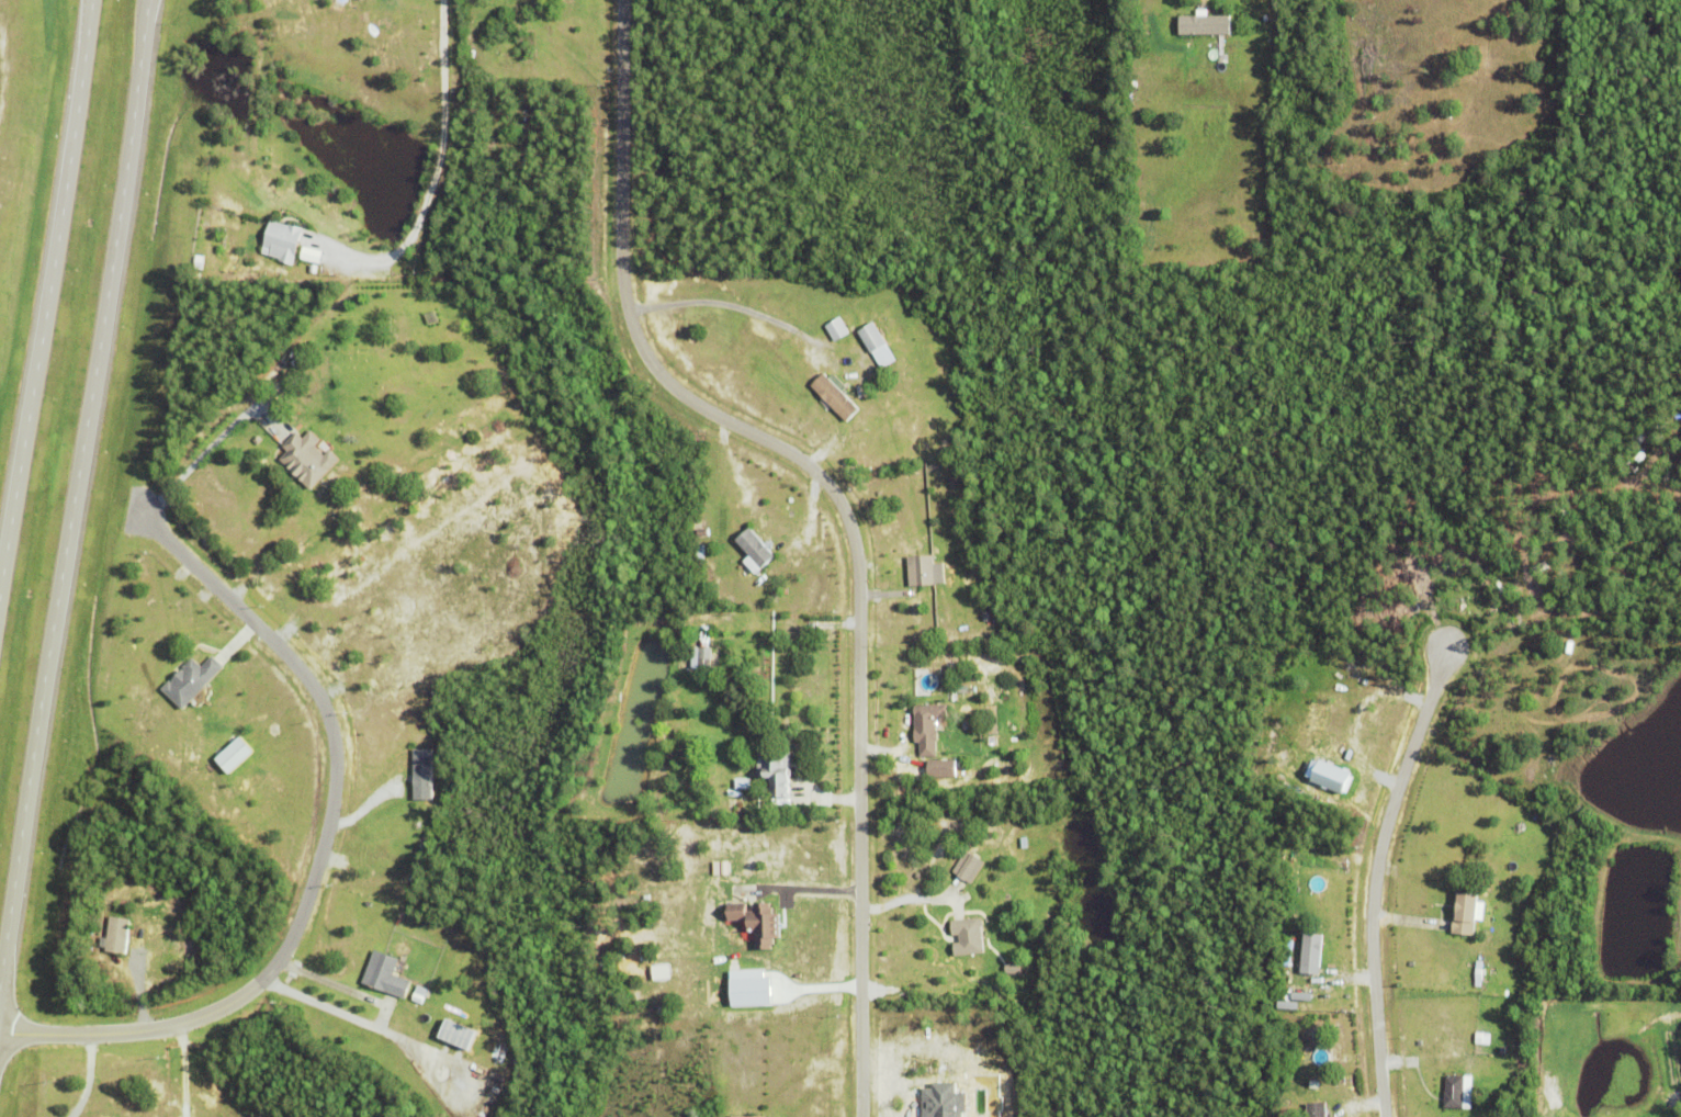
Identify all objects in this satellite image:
building: (1205, 29)
road: (430, 167)
building: (282, 245)
building: (313, 255)
road: (723, 304)
road: (48, 313)
building: (831, 315)
building: (836, 328)
building: (871, 335)
building: (861, 392)
building: (834, 393)
building: (256, 439)
road: (207, 447)
building: (306, 456)
road: (840, 506)
road: (76, 507)
building: (732, 521)
building: (702, 532)
building: (755, 546)
building: (700, 552)
building: (920, 568)
building: (767, 582)
building: (704, 656)
building: (191, 678)
building: (926, 726)
building: (227, 755)
building: (936, 767)
building: (775, 768)
building: (422, 774)
building: (1324, 777)
road: (317, 857)
building: (966, 867)
road: (1376, 869)
road: (801, 891)
building: (126, 902)
building: (1465, 913)
building: (757, 923)
building: (117, 934)
building: (968, 935)
building: (1310, 949)
building: (1014, 969)
building: (384, 974)
building: (418, 994)
building: (1286, 995)
building: (1298, 996)
building: (449, 1034)
building: (1479, 1038)
road: (181, 1070)
road: (86, 1077)
building: (1335, 1081)
building: (1454, 1092)
building: (1315, 1095)
building: (1316, 1109)
building: (748, 1116)

